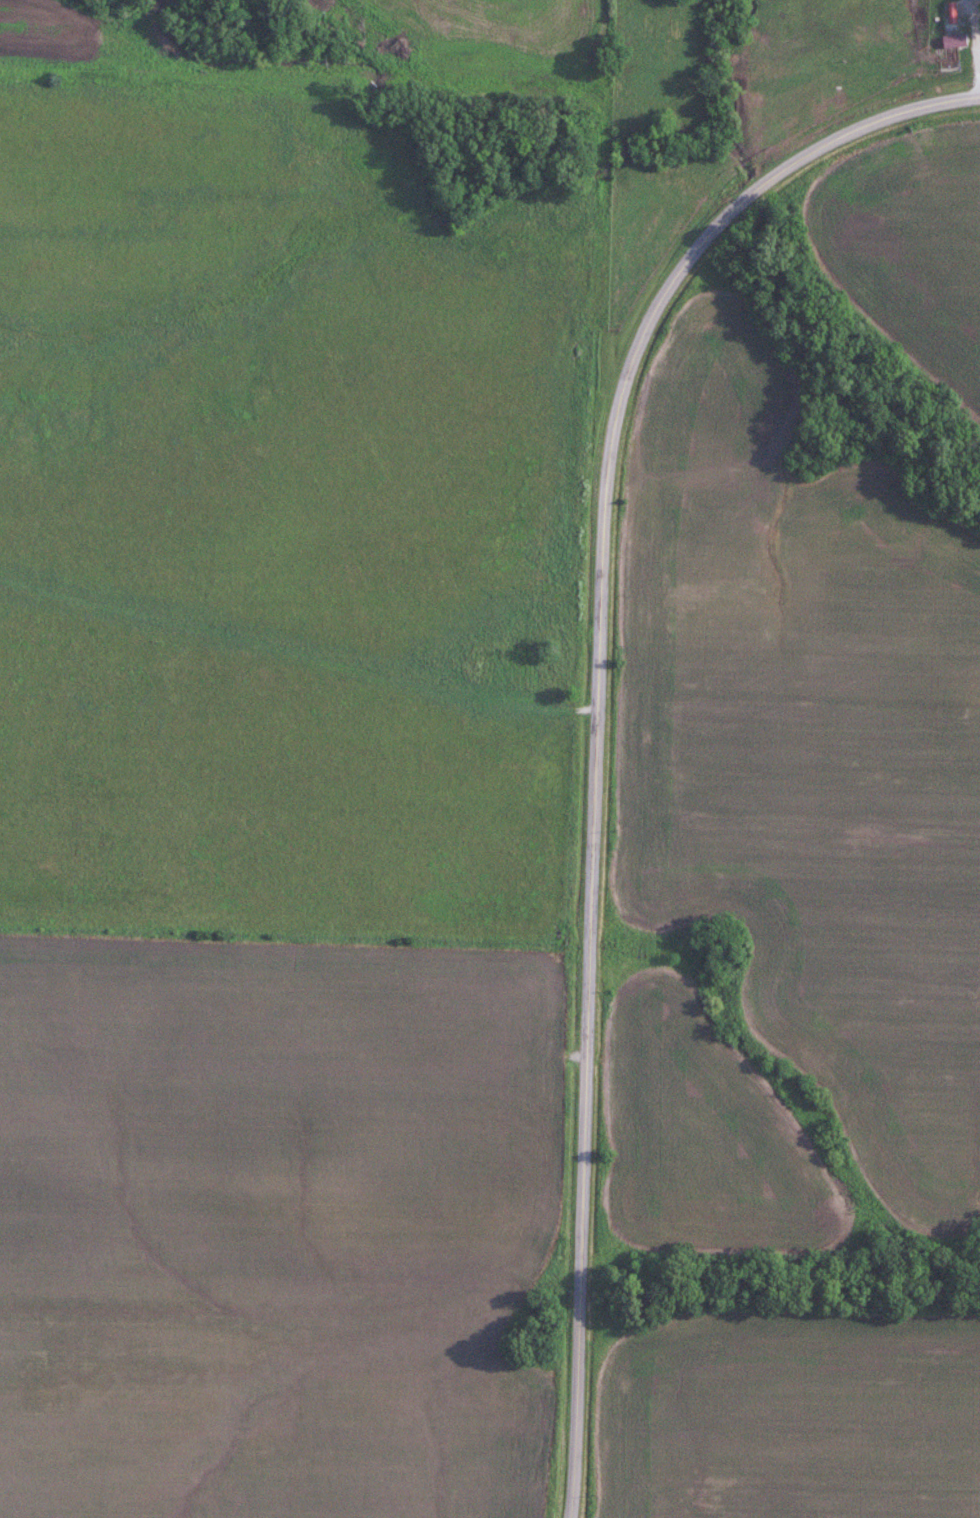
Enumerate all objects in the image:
building: (953, 39)
road: (976, 42)
building: (779, 87)
road: (822, 141)
road: (592, 871)

